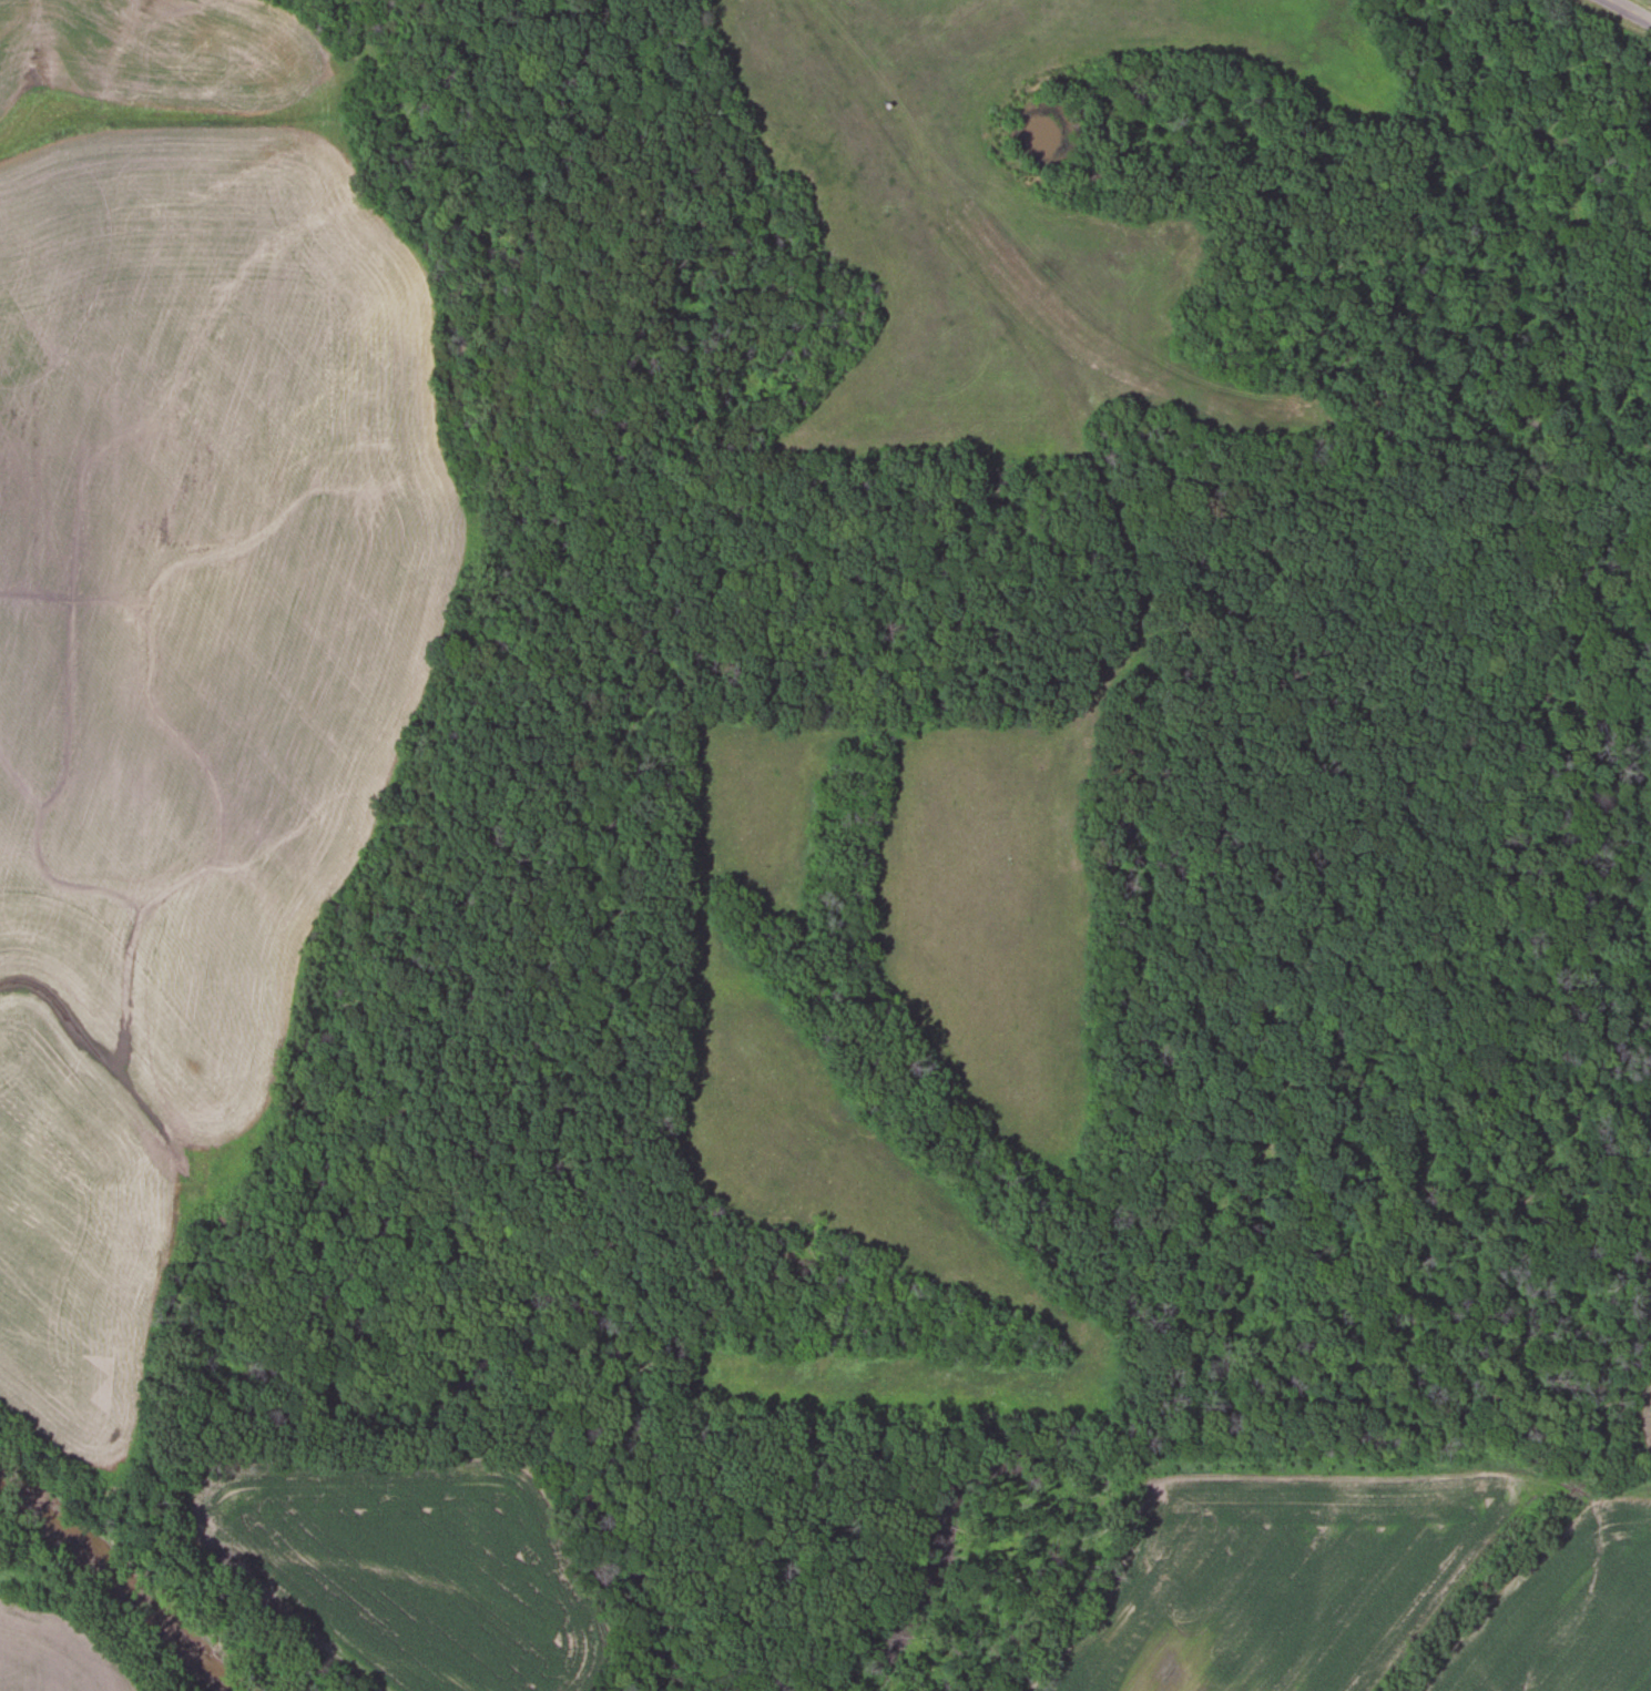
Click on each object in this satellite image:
road: (1633, 8)

